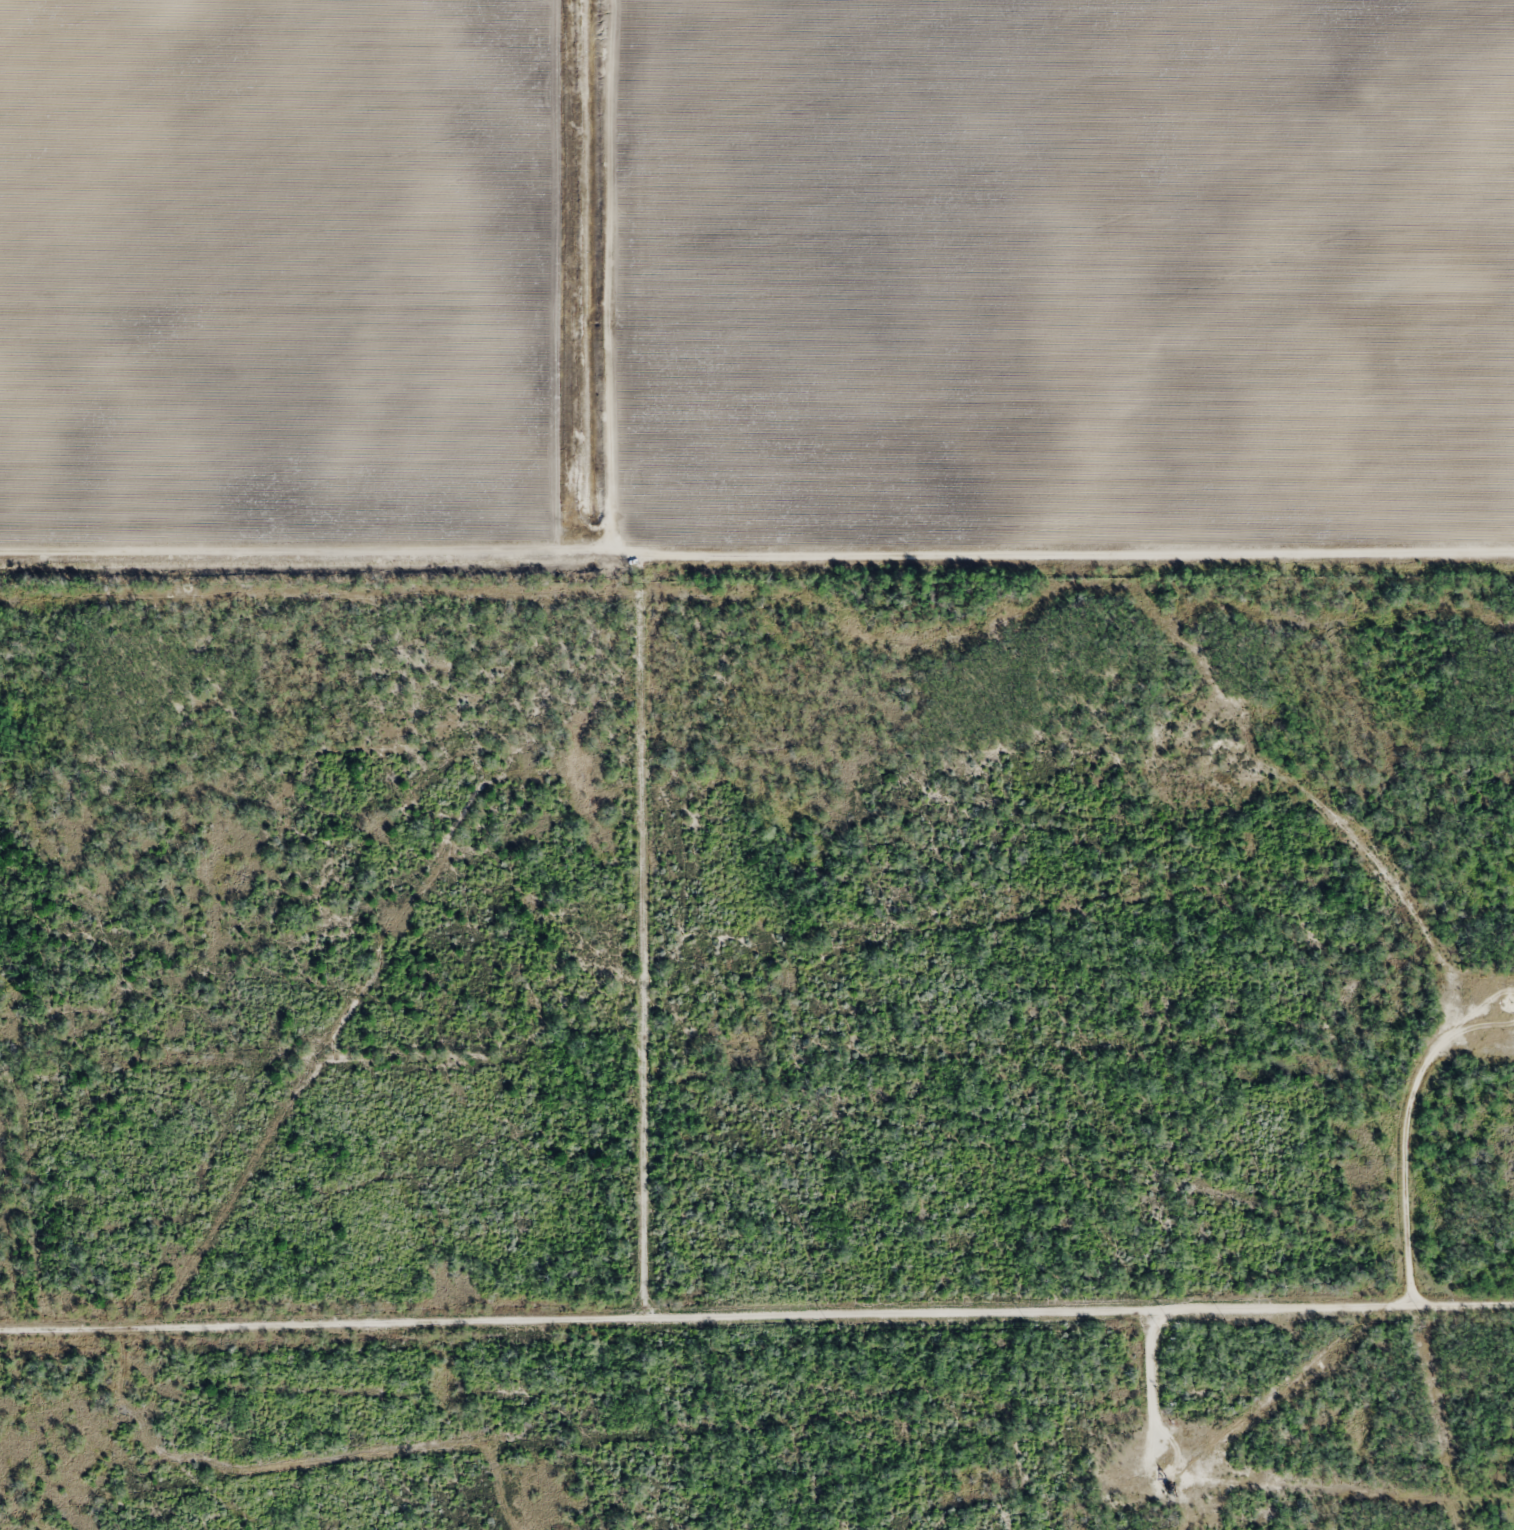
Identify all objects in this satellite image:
road: (757, 567)
road: (634, 950)
road: (756, 1329)

